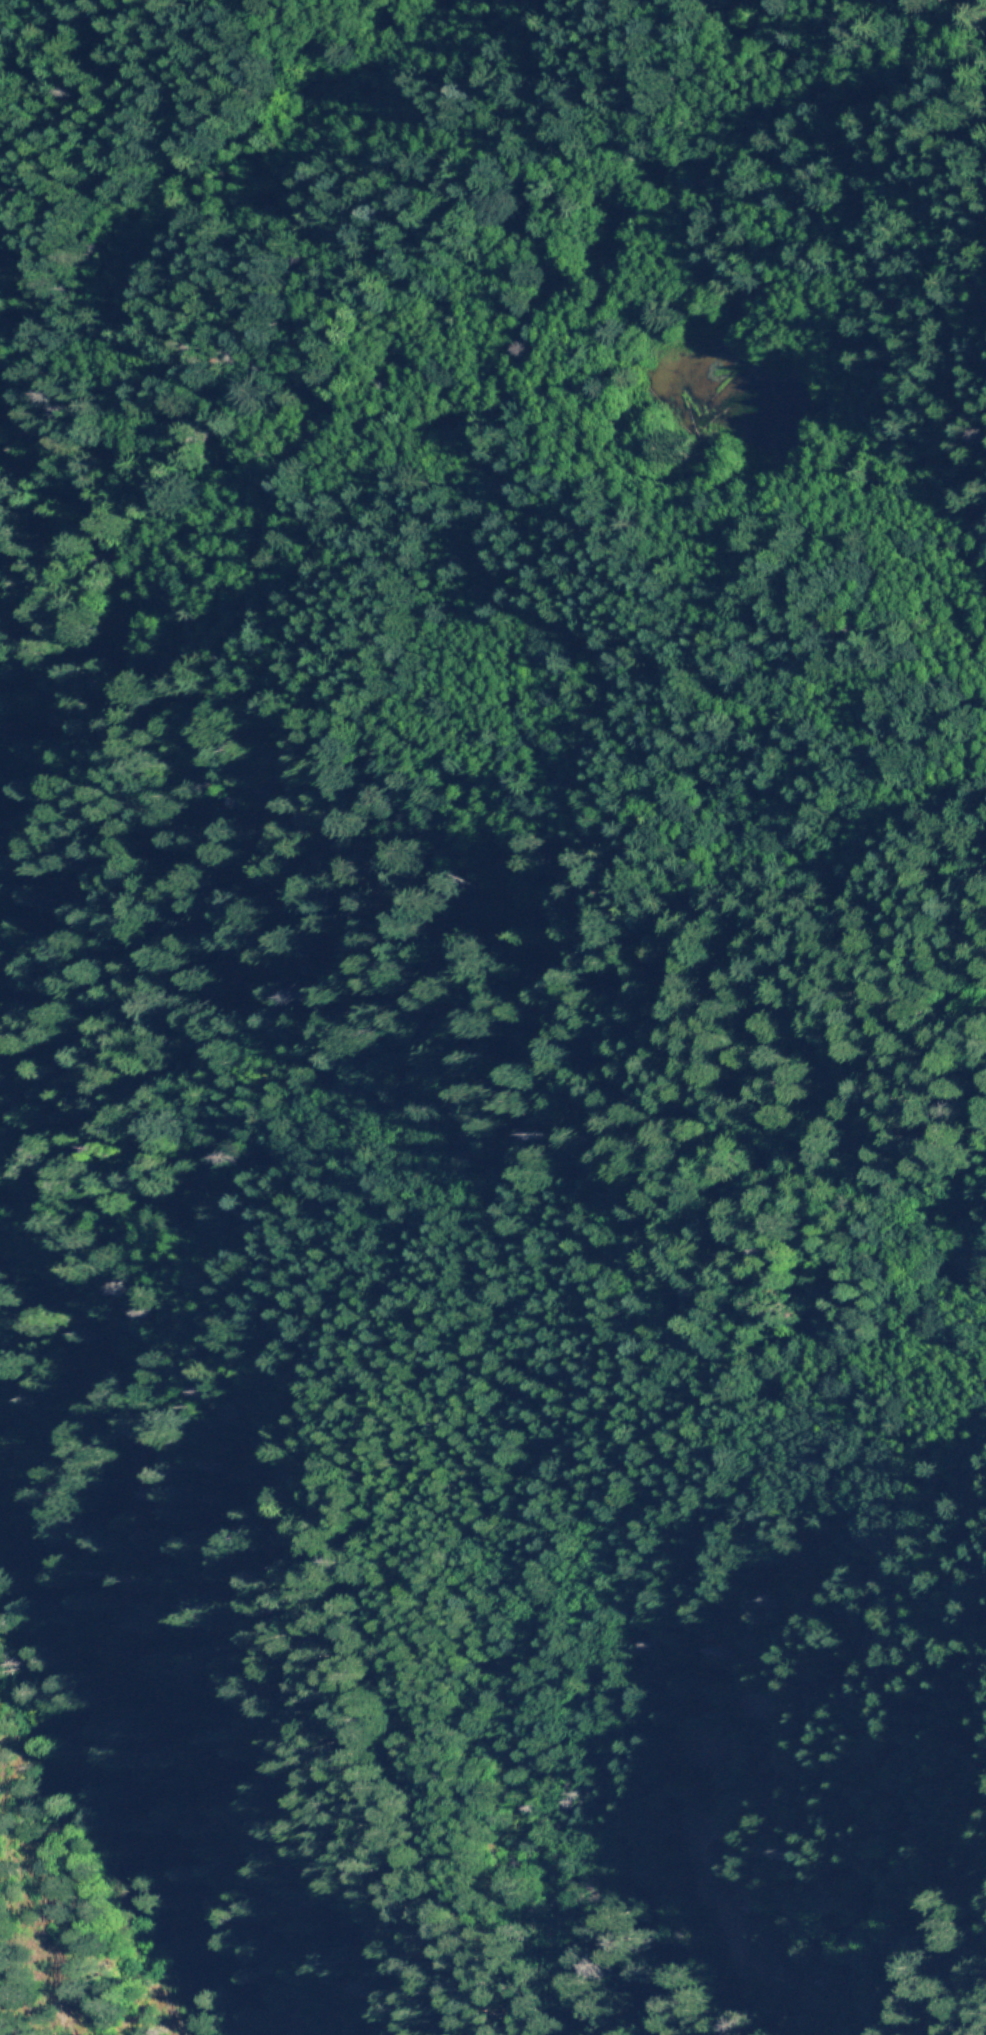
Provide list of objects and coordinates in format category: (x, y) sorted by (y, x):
road: (702, 619)

